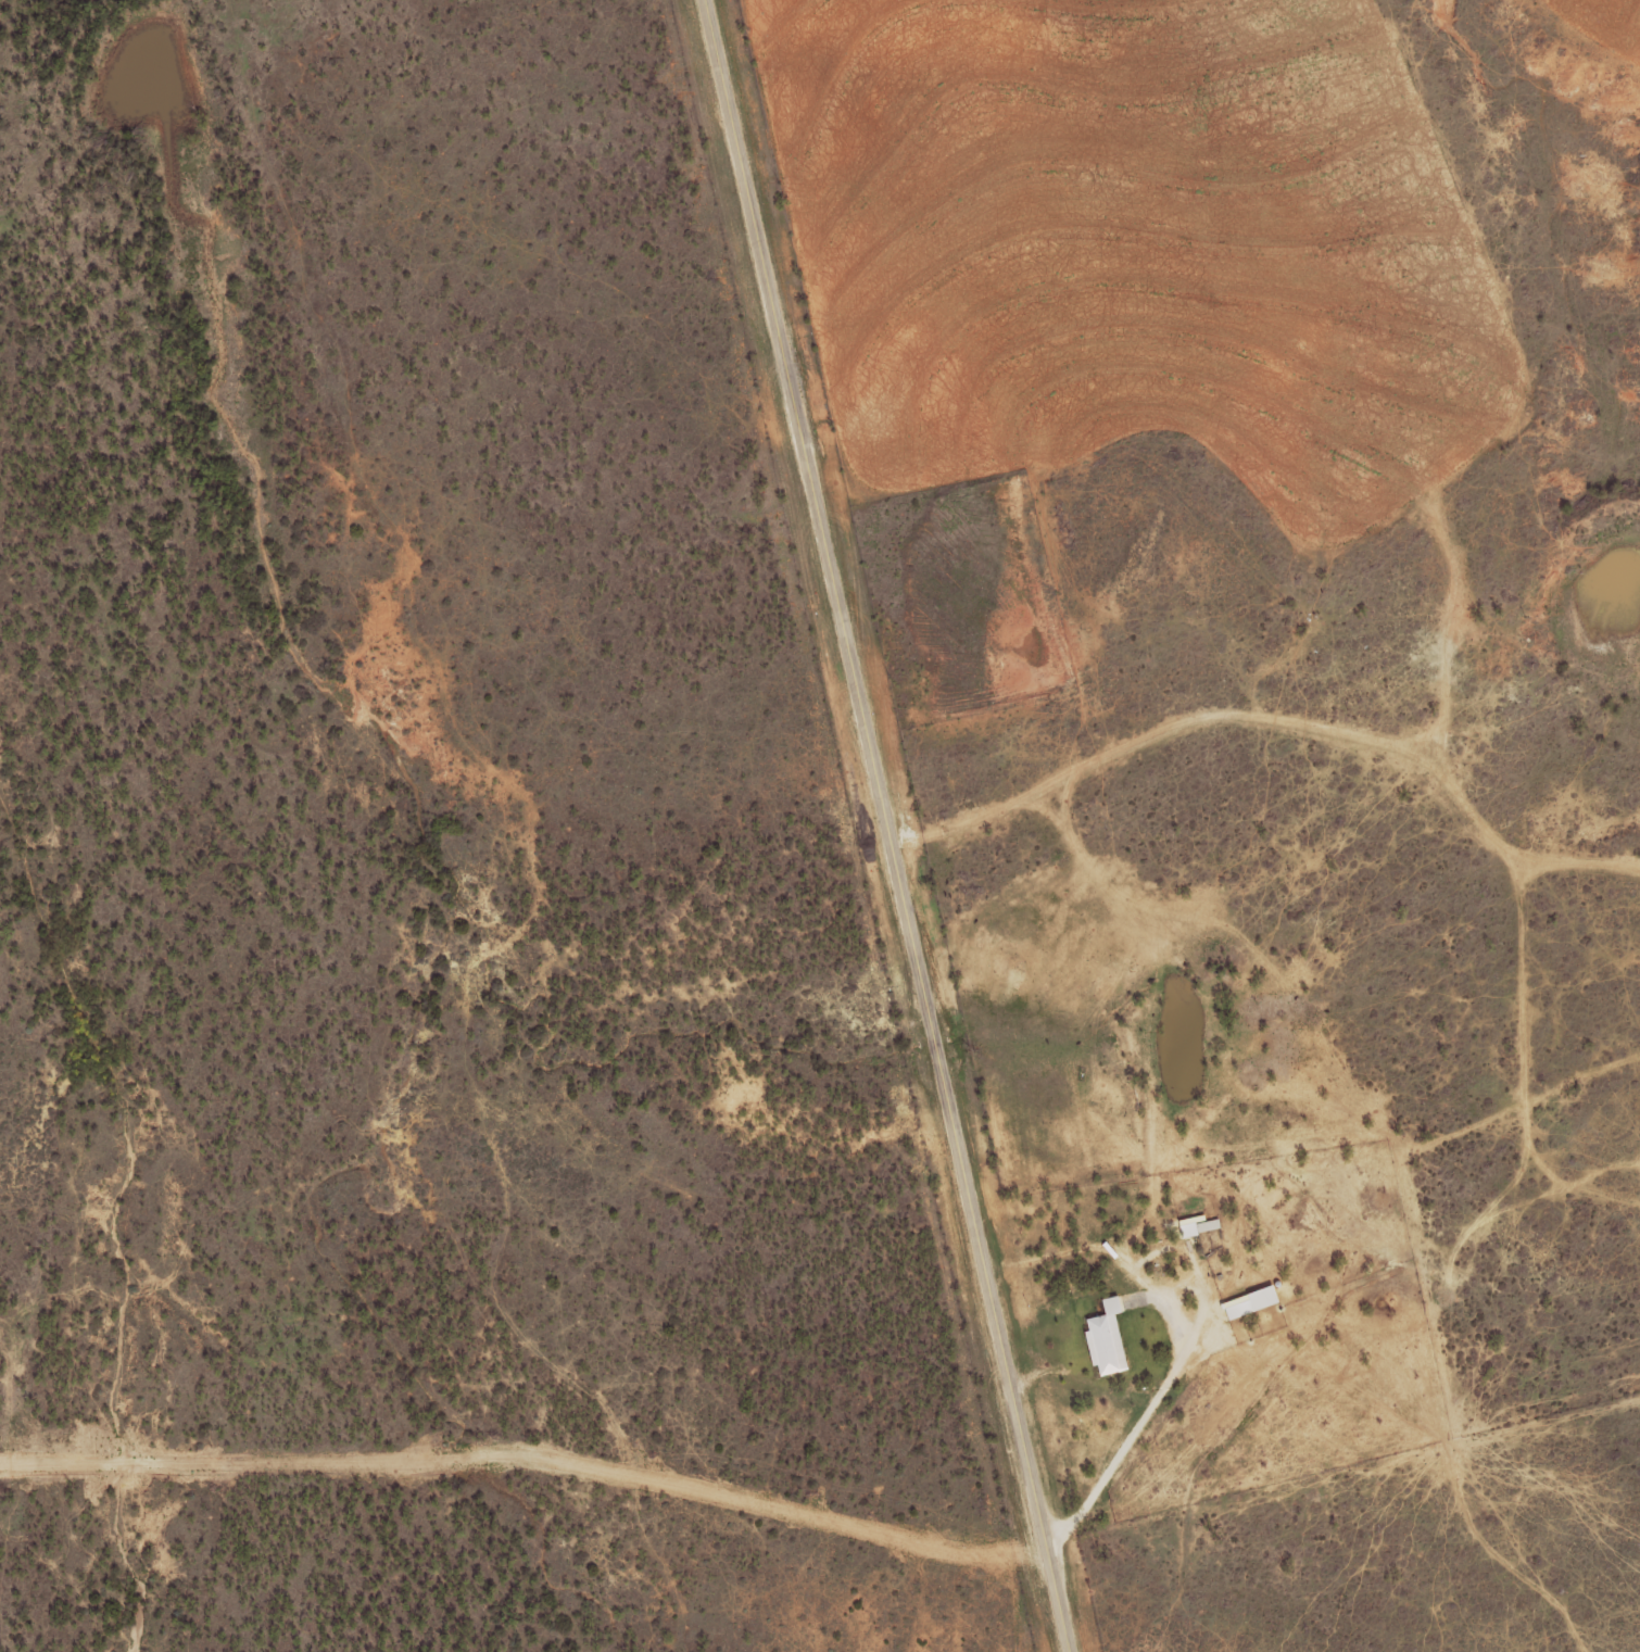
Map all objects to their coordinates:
road: (851, 692)
building: (1109, 1334)
road: (1136, 1427)
road: (1034, 1518)

